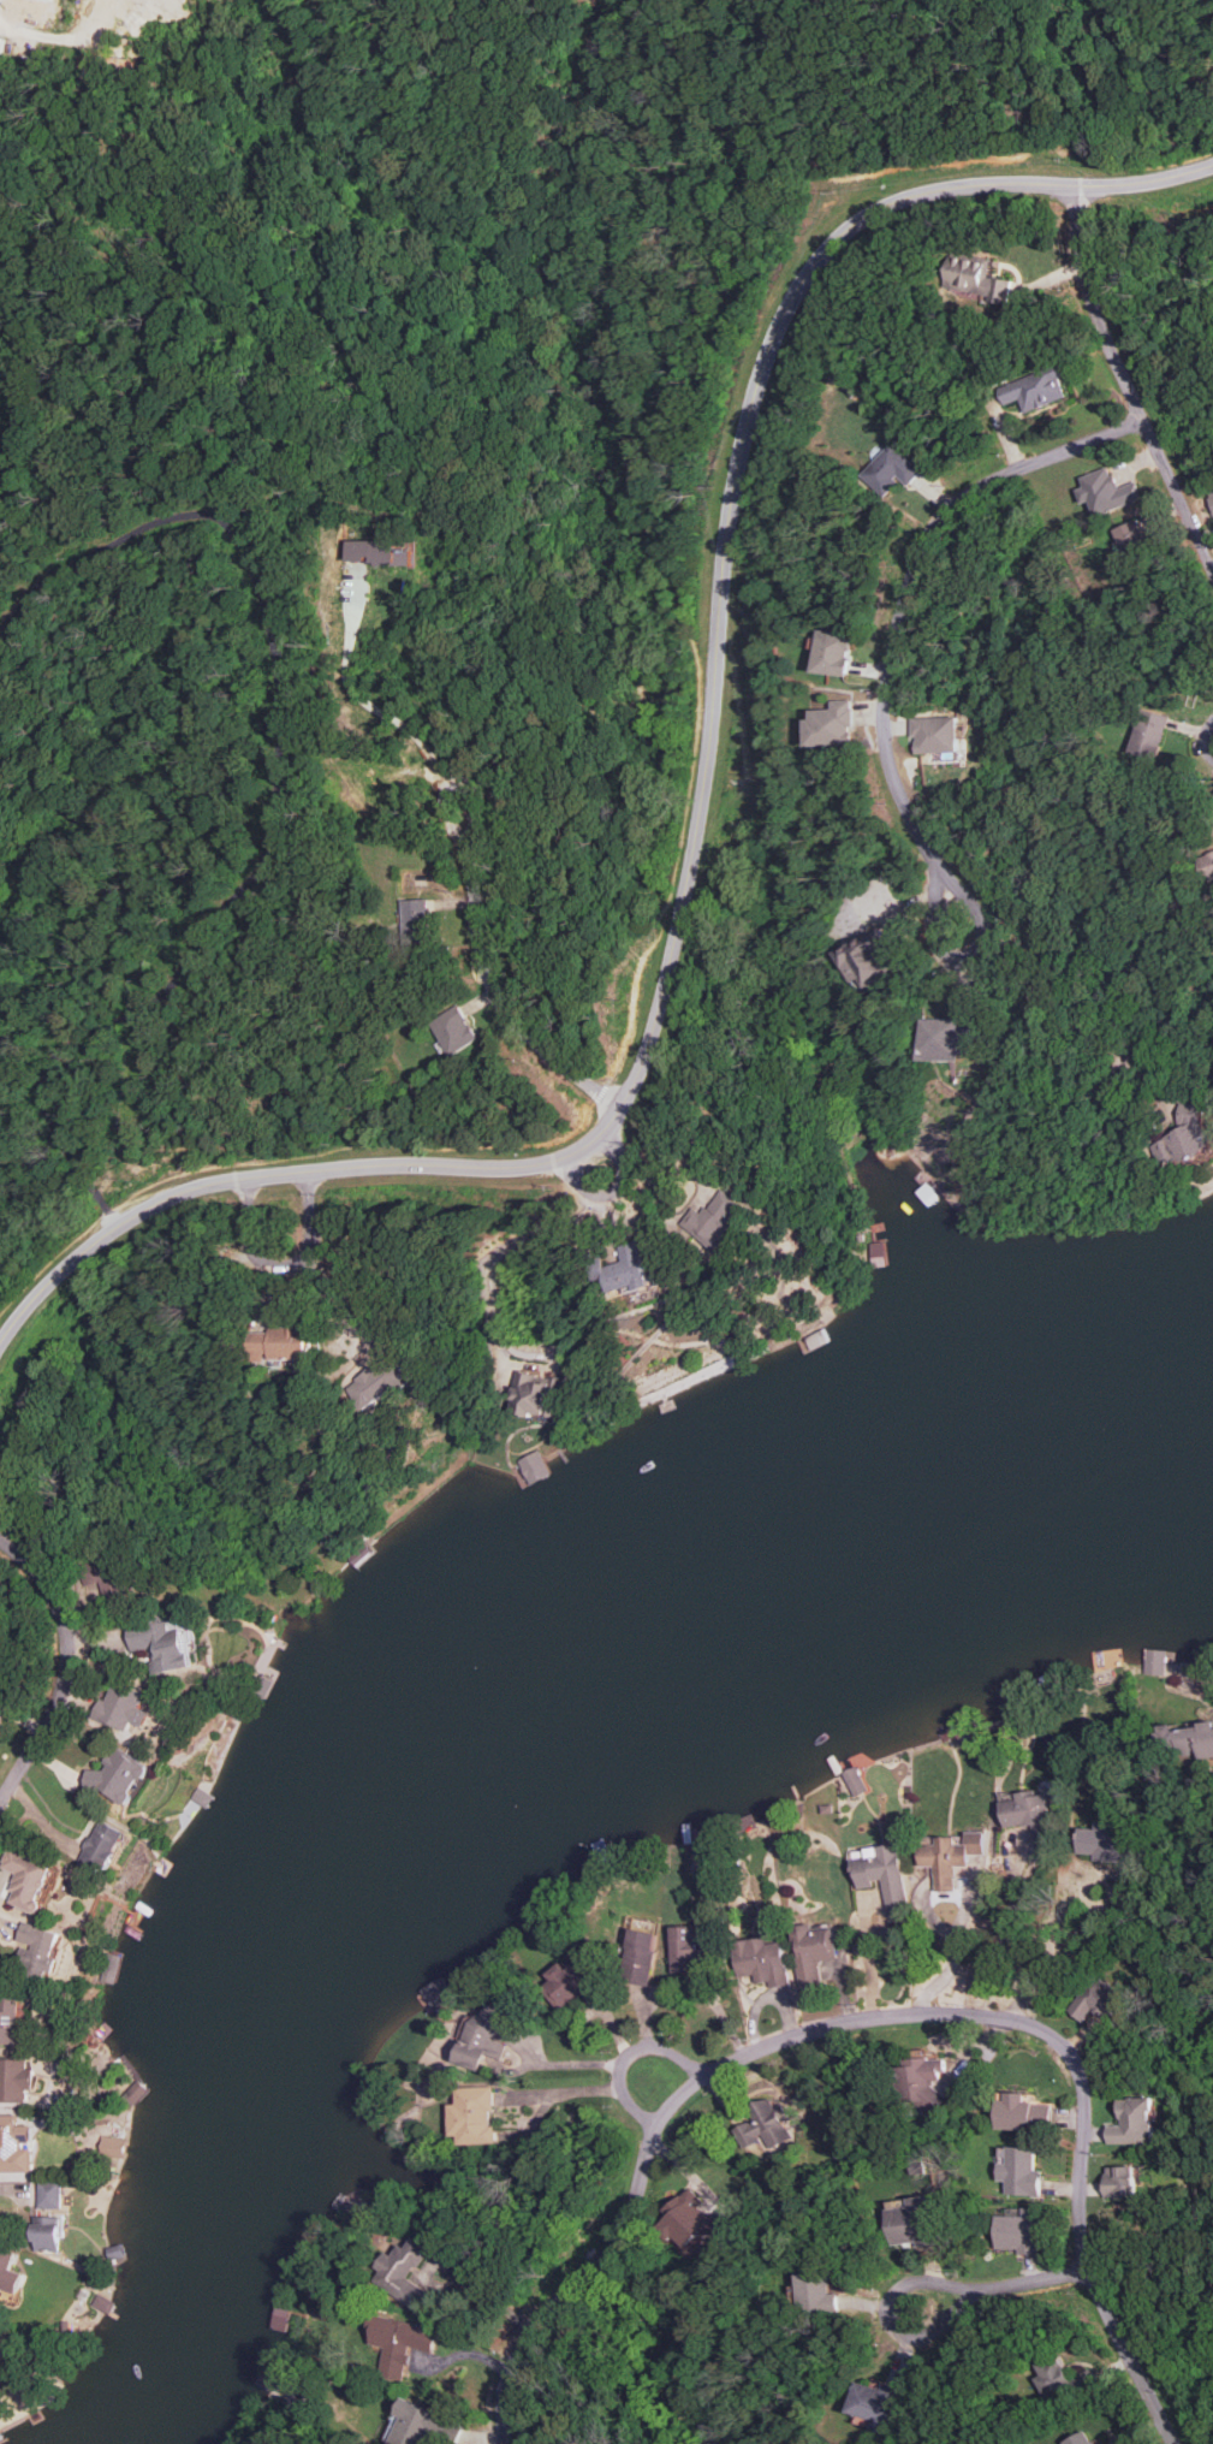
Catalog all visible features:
building: (54, 0)
building: (1, 1)
road: (795, 8)
road: (881, 16)
building: (1, 42)
road: (1160, 63)
road: (1209, 65)
road: (995, 70)
road: (353, 126)
road: (649, 130)
road: (561, 265)
building: (976, 277)
road: (659, 278)
road: (1125, 379)
building: (1036, 388)
building: (891, 469)
building: (1107, 491)
building: (1211, 497)
building: (1131, 538)
building: (382, 551)
road: (902, 612)
building: (833, 652)
road: (373, 707)
building: (832, 724)
building: (1149, 732)
building: (936, 734)
road: (702, 819)
building: (1207, 862)
building: (417, 915)
building: (869, 959)
road: (489, 986)
road: (1052, 1007)
building: (456, 1028)
building: (949, 1039)
road: (601, 1091)
building: (1185, 1137)
road: (283, 1157)
road: (619, 1193)
building: (714, 1217)
road: (497, 1258)
road: (284, 1262)
building: (628, 1269)
building: (281, 1342)
building: (382, 1381)
building: (539, 1395)
building: (535, 1466)
building: (108, 1577)
building: (163, 1644)
building: (1155, 1661)
road: (69, 1666)
building: (124, 1707)
building: (1187, 1739)
building: (120, 1775)
building: (855, 1780)
building: (1027, 1813)
building: (1107, 1840)
building: (105, 1845)
building: (950, 1856)
building: (882, 1873)
building: (28, 1879)
road: (1010, 1900)
road: (1068, 1945)
building: (686, 1948)
building: (40, 1950)
building: (811, 1950)
road: (950, 1952)
building: (640, 1956)
building: (762, 1958)
road: (866, 1960)
building: (569, 1982)
building: (438, 1993)
building: (1101, 2000)
road: (878, 2017)
building: (11, 2019)
building: (483, 2035)
road: (631, 2054)
building: (16, 2080)
building: (921, 2083)
building: (1023, 2112)
building: (474, 2116)
building: (1134, 2122)
building: (763, 2124)
building: (16, 2145)
building: (114, 2146)
building: (1018, 2170)
building: (1120, 2181)
building: (49, 2194)
building: (686, 2218)
building: (1022, 2230)
building: (48, 2232)
building: (8, 2272)
building: (403, 2272)
road: (1006, 2285)
building: (816, 2292)
building: (277, 2315)
building: (399, 2342)
building: (0, 2356)
building: (263, 2374)
building: (1060, 2378)
building: (876, 2403)
building: (422, 2425)
building: (1081, 2438)

